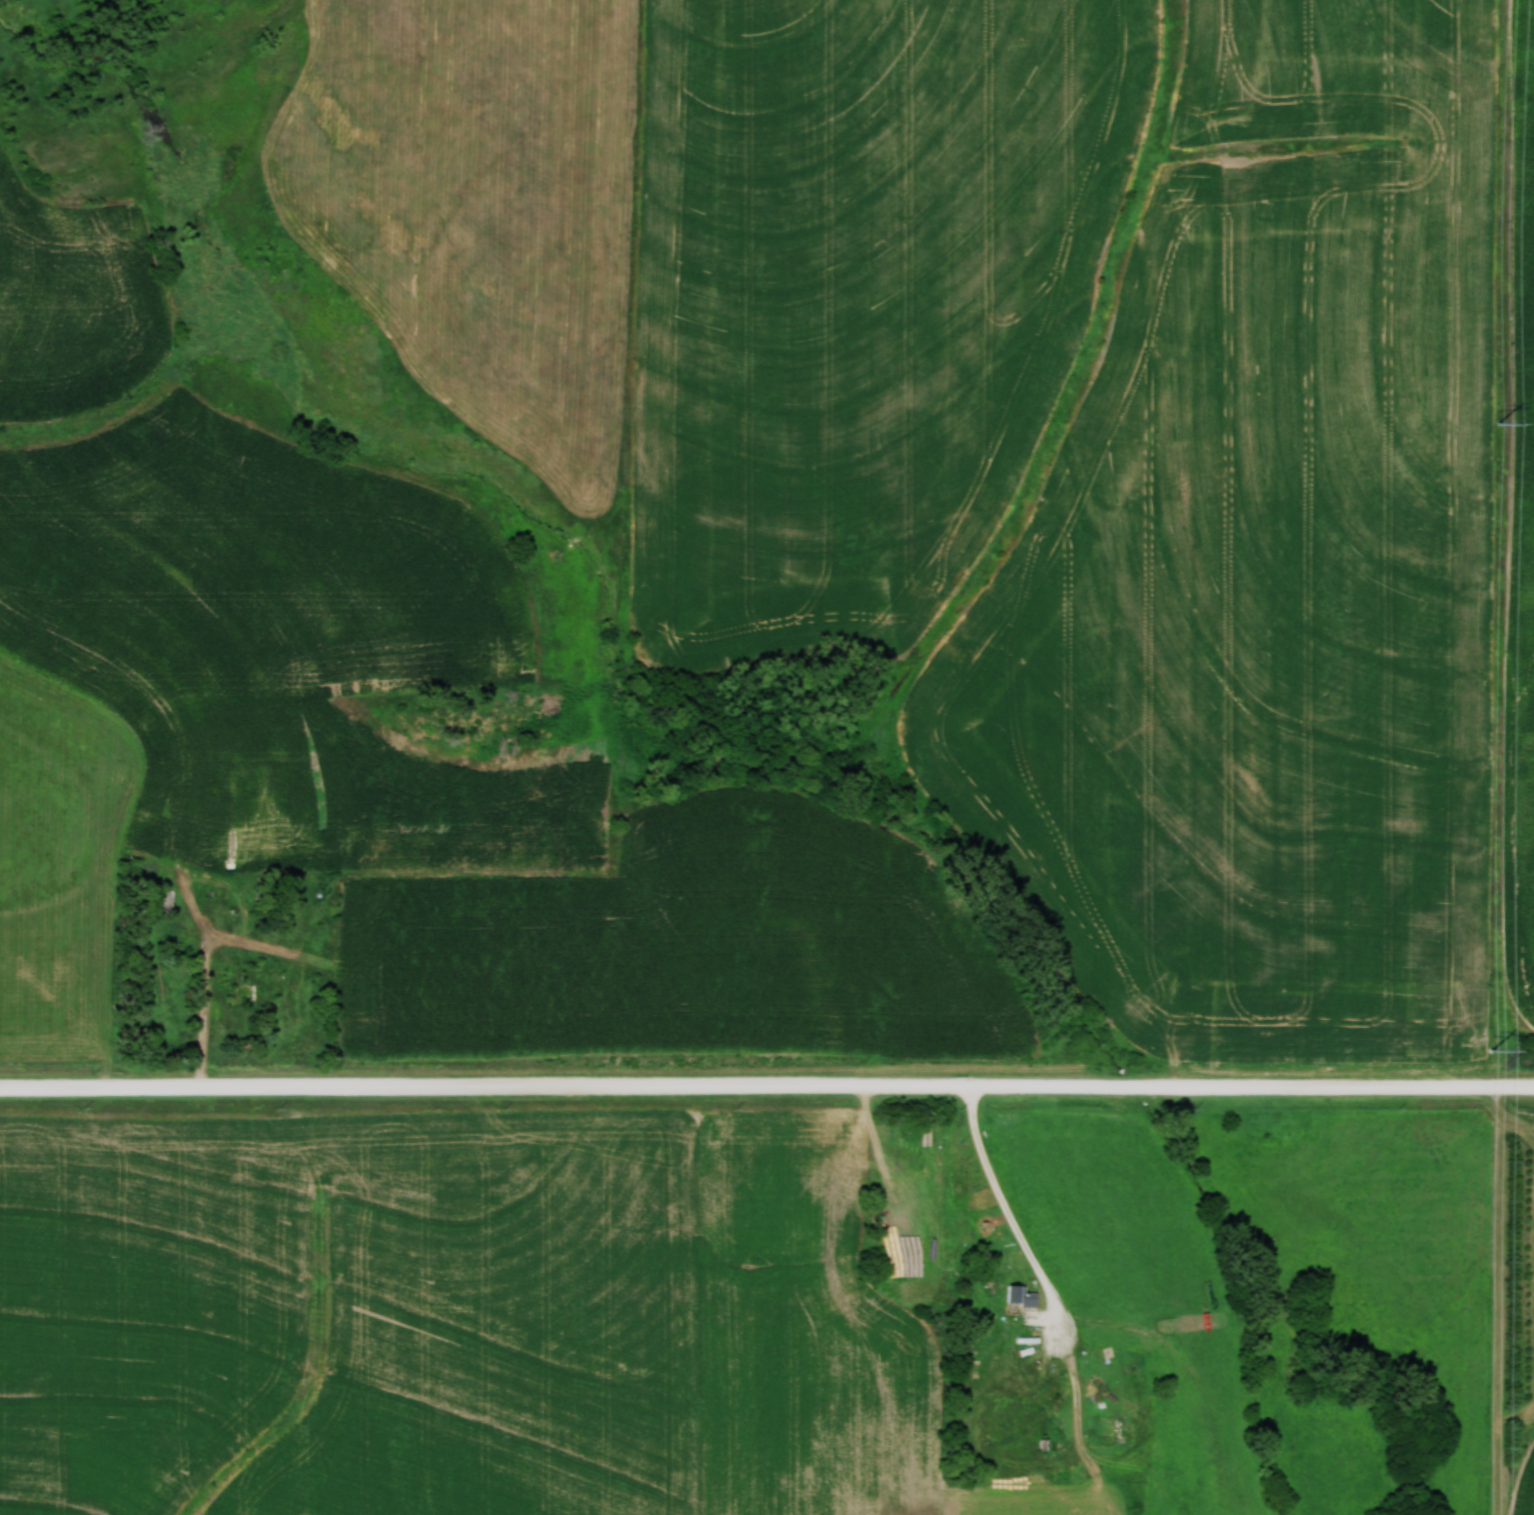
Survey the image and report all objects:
power tower: (1497, 421)
building: (245, 793)
building: (198, 842)
building: (171, 900)
road: (211, 1020)
power tower: (1488, 1049)
road: (767, 1089)
road: (1012, 1210)
building: (1016, 1296)

